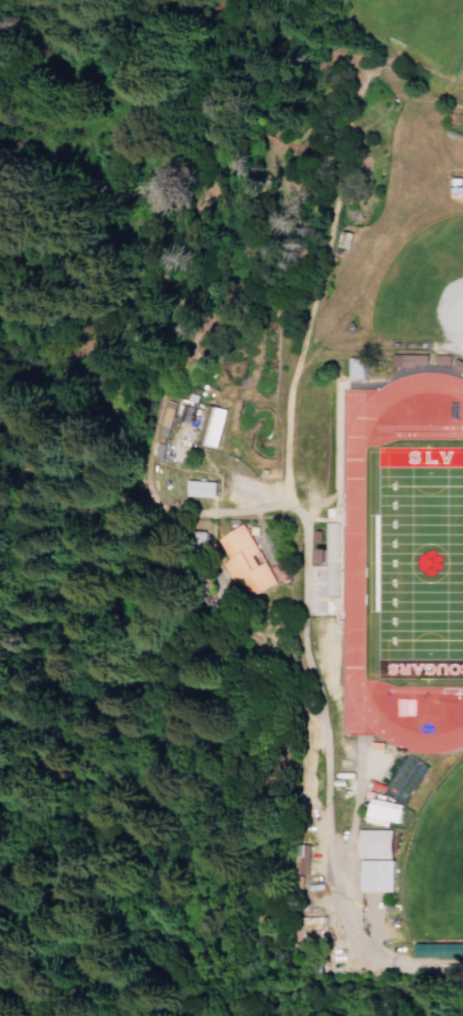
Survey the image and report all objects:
park: (411, 28)
park: (141, 193)
park: (421, 286)
building: (409, 360)
building: (356, 369)
building: (201, 488)
road: (102, 496)
track: (353, 561)
park: (419, 561)
building: (249, 566)
road: (321, 735)
building: (381, 812)
building: (372, 843)
building: (299, 859)
park: (436, 864)
building: (374, 875)
building: (438, 950)

